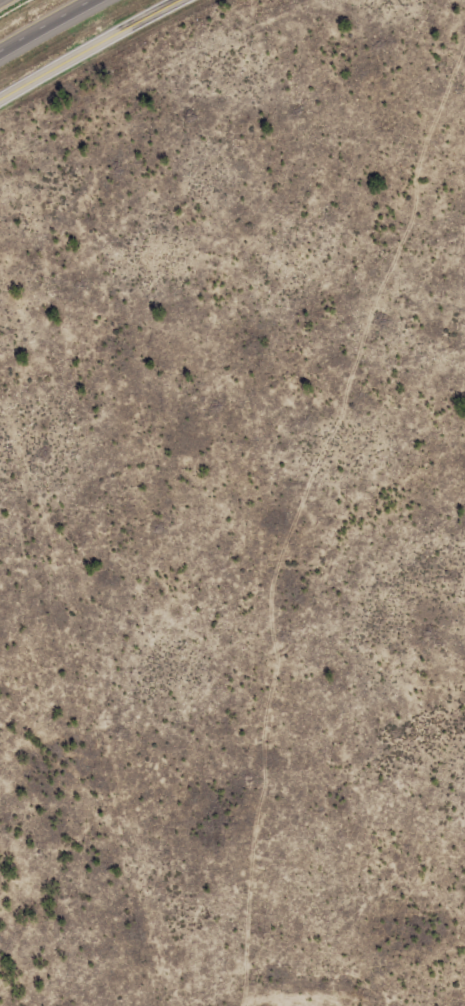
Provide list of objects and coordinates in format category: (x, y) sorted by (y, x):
road: (44, 24)
road: (88, 46)

